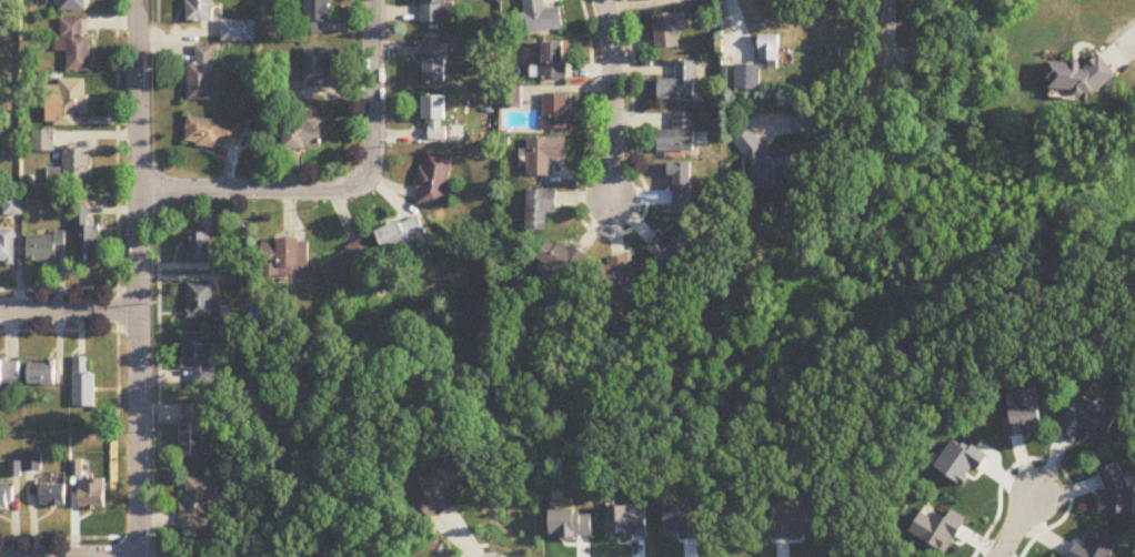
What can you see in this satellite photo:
building: (72, 4)
building: (200, 11)
road: (351, 12)
road: (157, 14)
building: (542, 17)
building: (317, 18)
road: (345, 24)
road: (737, 24)
road: (178, 29)
building: (666, 31)
building: (238, 32)
road: (1123, 45)
building: (76, 48)
building: (771, 50)
building: (434, 61)
building: (554, 61)
building: (318, 67)
building: (202, 75)
building: (1082, 77)
building: (749, 78)
building: (679, 84)
road: (613, 97)
building: (68, 102)
road: (867, 104)
building: (555, 112)
building: (435, 118)
building: (213, 134)
building: (303, 135)
building: (679, 135)
building: (544, 156)
building: (767, 164)
building: (72, 169)
building: (434, 181)
road: (344, 190)
building: (12, 206)
building: (541, 209)
road: (115, 215)
building: (86, 233)
building: (403, 234)
building: (675, 243)
building: (7, 247)
building: (200, 247)
building: (44, 249)
building: (293, 257)
building: (563, 261)
building: (355, 263)
building: (622, 274)
road: (137, 278)
road: (58, 287)
building: (203, 303)
road: (68, 307)
road: (158, 320)
road: (58, 328)
building: (201, 358)
building: (41, 374)
building: (9, 375)
building: (83, 384)
building: (1092, 421)
building: (194, 429)
building: (33, 464)
building: (448, 487)
building: (93, 495)
building: (53, 496)
building: (6, 499)
building: (199, 503)
road: (1014, 527)
road: (58, 537)
road: (69, 556)

